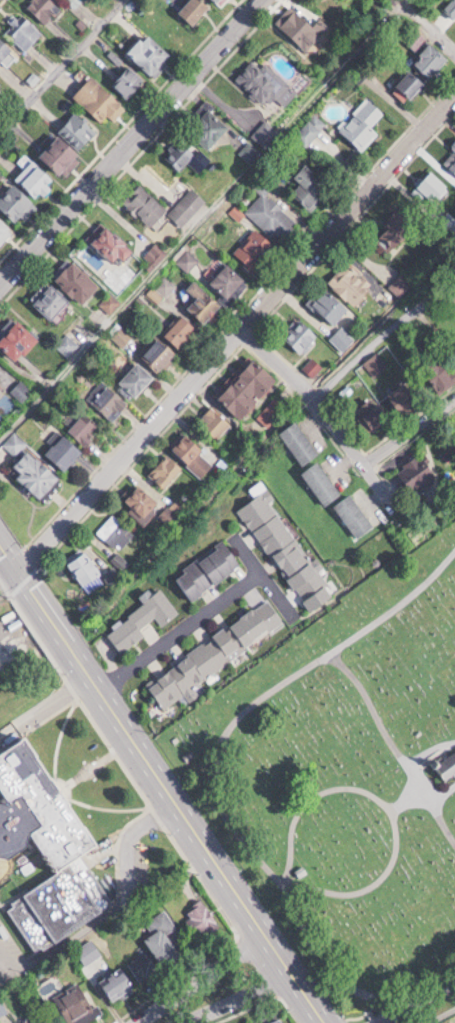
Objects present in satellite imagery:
building: (74, 0)
building: (222, 1)
building: (45, 8)
building: (451, 8)
building: (195, 10)
building: (305, 26)
building: (24, 31)
building: (4, 48)
building: (152, 54)
road: (61, 65)
building: (424, 69)
building: (265, 80)
building: (129, 81)
building: (0, 83)
building: (98, 99)
building: (362, 122)
building: (210, 124)
building: (267, 131)
building: (309, 131)
road: (119, 140)
building: (69, 142)
building: (453, 144)
building: (252, 150)
building: (181, 153)
building: (451, 160)
building: (37, 178)
building: (311, 186)
building: (433, 189)
road: (227, 193)
building: (17, 201)
building: (147, 204)
building: (189, 206)
building: (272, 216)
building: (4, 230)
building: (394, 230)
building: (112, 242)
building: (255, 249)
building: (188, 260)
building: (230, 280)
building: (80, 281)
building: (351, 283)
building: (394, 288)
building: (53, 300)
building: (205, 303)
building: (328, 305)
building: (183, 331)
road: (236, 333)
road: (383, 334)
building: (302, 335)
building: (342, 338)
building: (19, 339)
building: (160, 355)
building: (375, 364)
building: (0, 370)
building: (139, 378)
building: (247, 387)
building: (1, 389)
building: (404, 396)
building: (108, 399)
road: (325, 414)
building: (373, 414)
building: (217, 425)
building: (87, 428)
road: (408, 430)
building: (300, 442)
building: (65, 450)
building: (194, 455)
building: (166, 471)
building: (38, 473)
building: (420, 473)
building: (321, 482)
building: (143, 504)
building: (354, 514)
building: (115, 532)
building: (287, 552)
road: (251, 562)
building: (86, 568)
building: (207, 570)
road: (6, 580)
building: (142, 620)
road: (176, 631)
building: (216, 652)
road: (42, 706)
building: (445, 760)
road: (160, 786)
park: (350, 788)
road: (124, 844)
building: (49, 847)
building: (202, 918)
building: (163, 936)
road: (71, 938)
road: (10, 949)
building: (140, 962)
road: (202, 977)
building: (118, 983)
road: (236, 998)
building: (77, 1005)
building: (29, 1021)
building: (279, 1021)

